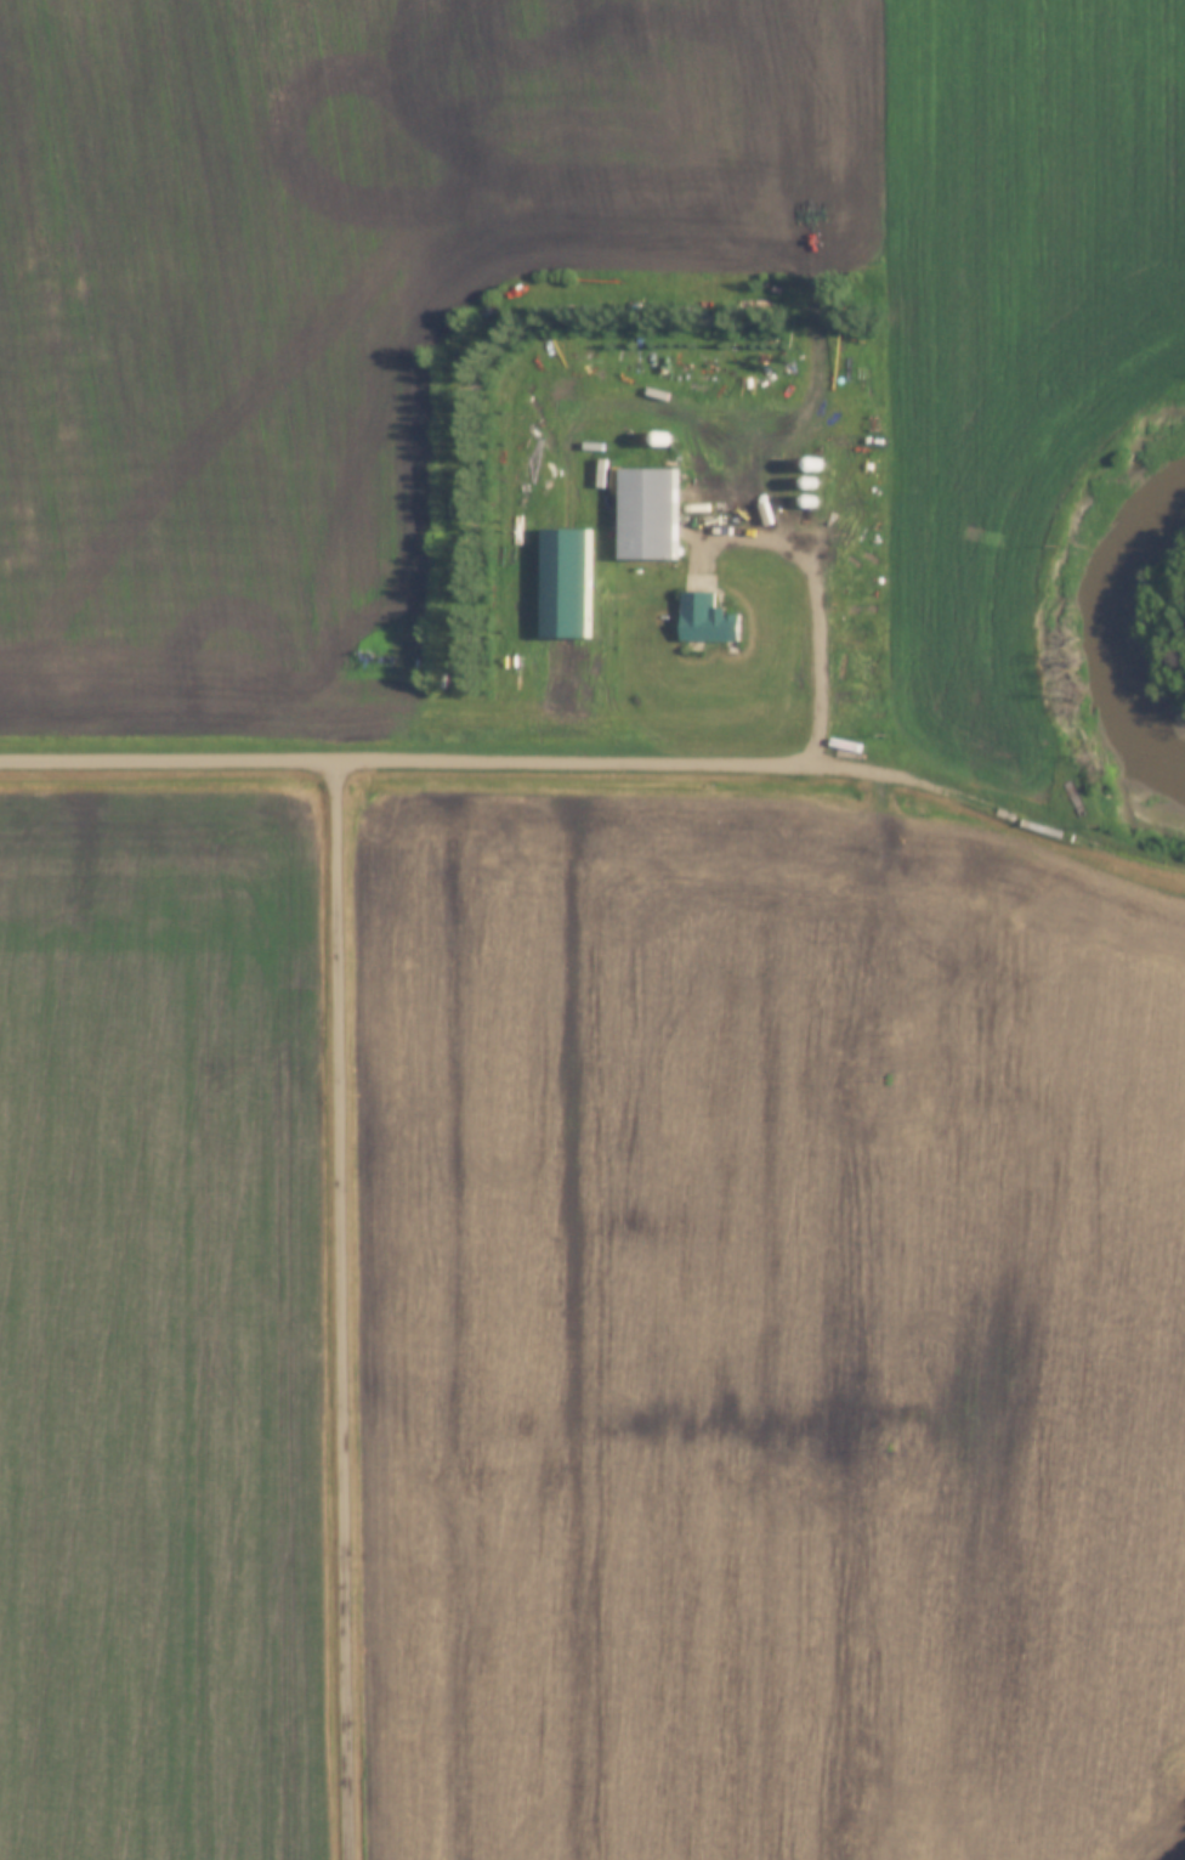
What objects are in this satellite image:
building: (646, 514)
road: (821, 605)
building: (704, 618)
river: (1136, 627)
road: (600, 761)
road: (345, 1308)

